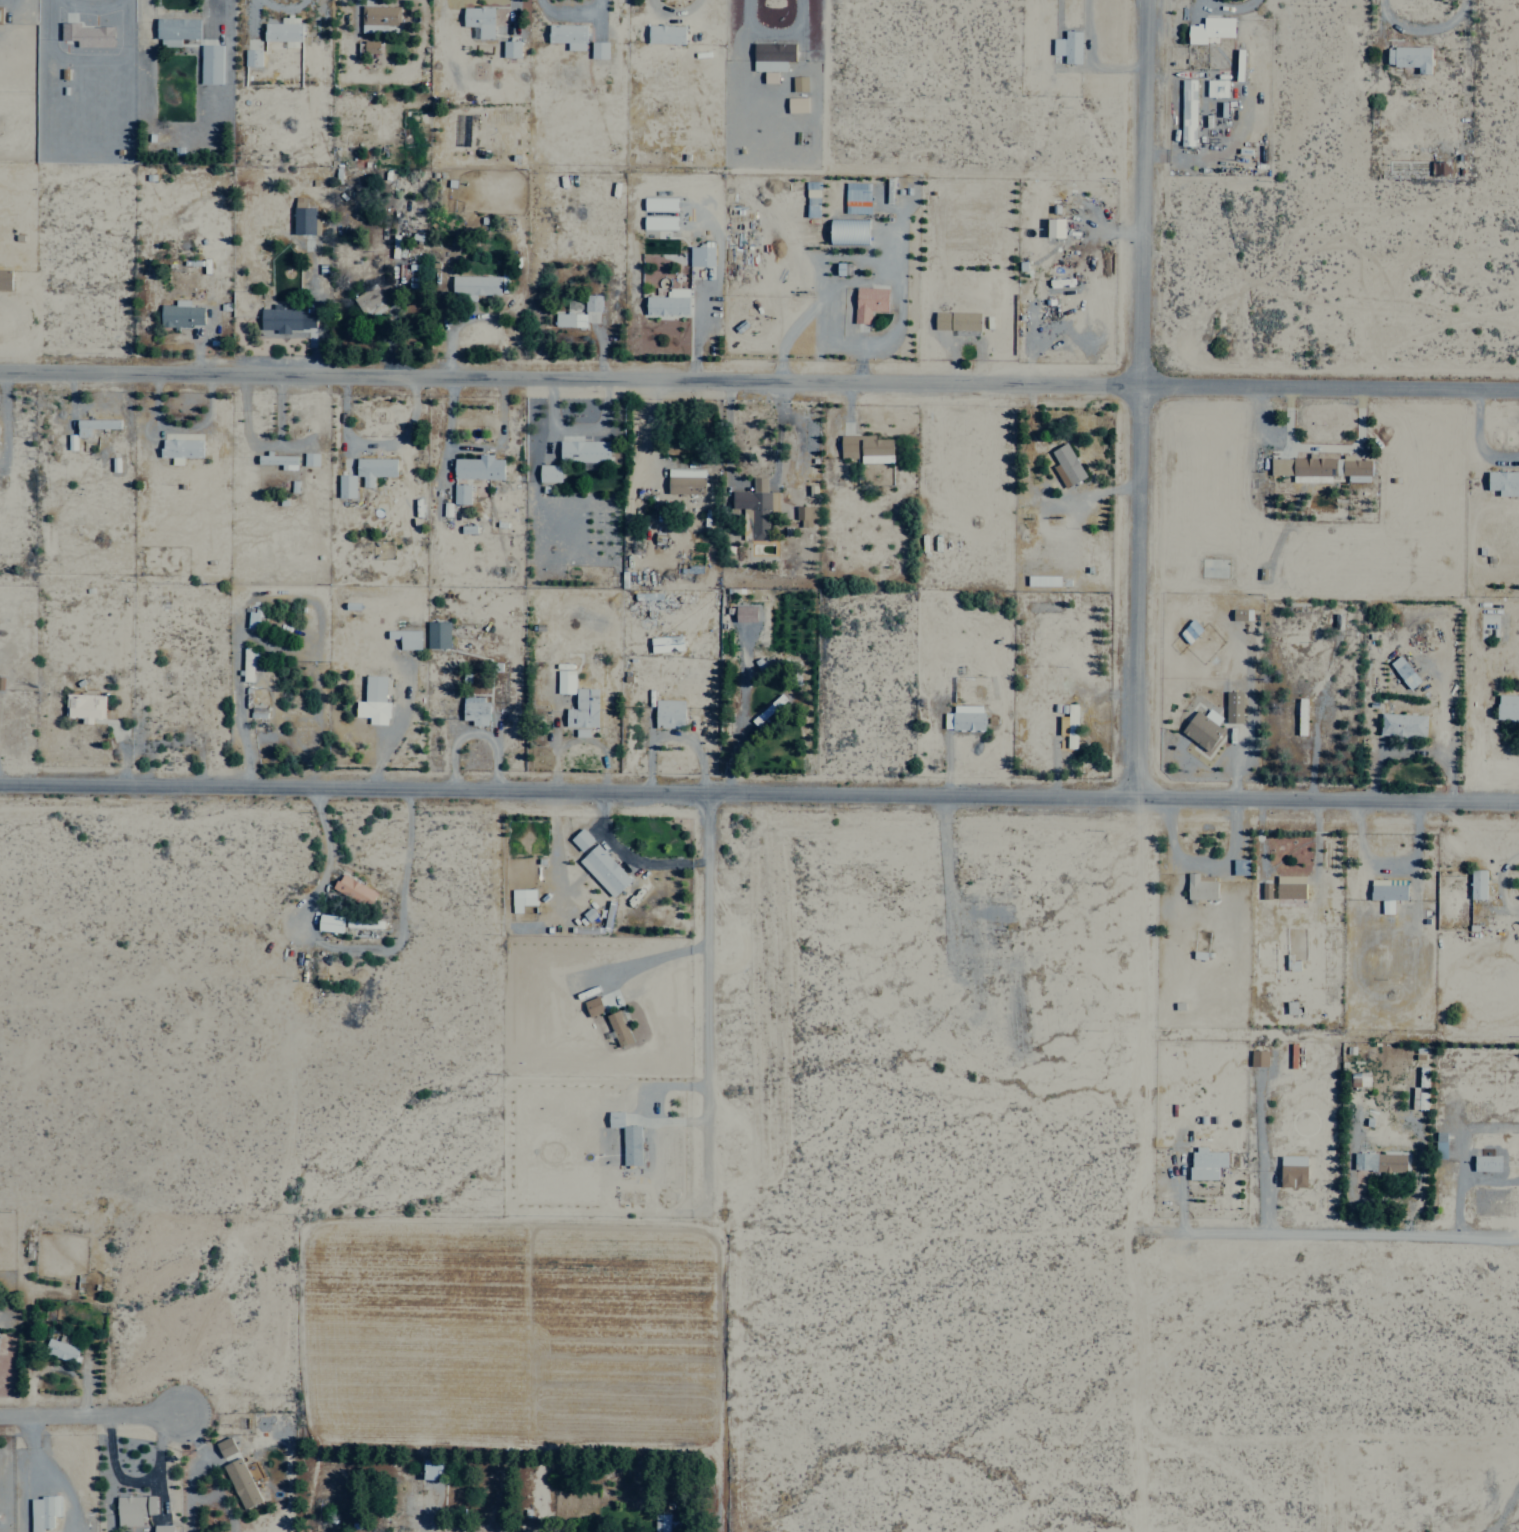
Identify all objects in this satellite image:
building: (0, 9)
building: (377, 17)
building: (478, 20)
building: (1209, 28)
building: (281, 29)
building: (175, 30)
building: (86, 34)
building: (664, 34)
building: (567, 35)
building: (369, 46)
building: (1067, 46)
building: (509, 48)
building: (597, 49)
building: (770, 55)
building: (251, 57)
building: (1409, 57)
building: (209, 63)
building: (768, 76)
building: (798, 83)
building: (1215, 87)
building: (795, 104)
building: (1186, 112)
building: (1440, 167)
building: (855, 197)
building: (811, 198)
building: (302, 218)
building: (1053, 227)
building: (847, 231)
building: (699, 255)
building: (842, 268)
building: (4, 279)
building: (473, 286)
building: (590, 302)
building: (667, 302)
building: (867, 302)
building: (369, 303)
building: (179, 314)
building: (568, 319)
building: (283, 320)
building: (955, 320)
road: (759, 376)
road: (1138, 397)
building: (93, 425)
building: (865, 448)
building: (179, 449)
building: (582, 450)
building: (309, 459)
building: (278, 460)
building: (1065, 465)
building: (477, 467)
building: (373, 468)
building: (1303, 469)
building: (1354, 469)
building: (548, 473)
building: (684, 481)
building: (1503, 481)
building: (345, 485)
building: (460, 493)
building: (755, 505)
building: (804, 515)
building: (743, 613)
building: (1189, 630)
building: (436, 634)
building: (404, 638)
building: (664, 643)
building: (248, 662)
building: (1402, 672)
building: (564, 681)
building: (372, 701)
building: (83, 706)
building: (1232, 706)
building: (1507, 708)
building: (581, 709)
building: (474, 710)
building: (667, 713)
building: (1300, 716)
building: (962, 718)
building: (1401, 725)
building: (1069, 726)
building: (1201, 728)
building: (580, 732)
road: (759, 788)
building: (579, 839)
building: (1238, 867)
building: (602, 870)
building: (1476, 884)
building: (1199, 886)
building: (1289, 887)
building: (352, 890)
building: (1264, 890)
building: (1386, 892)
building: (519, 903)
building: (328, 923)
building: (362, 923)
road: (707, 999)
building: (591, 1006)
building: (1291, 1007)
building: (618, 1026)
building: (1257, 1057)
building: (1359, 1079)
building: (1421, 1101)
building: (625, 1138)
building: (1439, 1145)
building: (1378, 1162)
building: (1204, 1163)
building: (1485, 1163)
building: (1291, 1171)
road: (1331, 1235)
building: (60, 1348)
road: (89, 1415)
building: (224, 1447)
building: (429, 1470)
building: (240, 1483)
building: (132, 1509)
building: (41, 1512)
building: (666, 1524)
building: (161, 1528)

